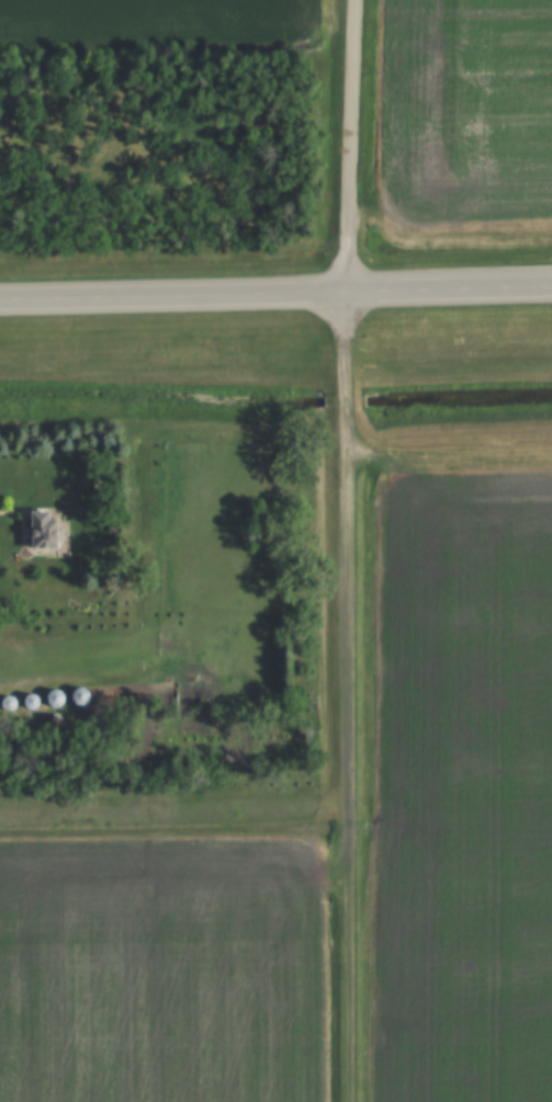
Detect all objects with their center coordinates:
crop: (154, 26)
crop: (466, 111)
road: (351, 146)
road: (275, 293)
building: (38, 529)
road: (347, 696)
crop: (464, 789)
crop: (162, 970)

